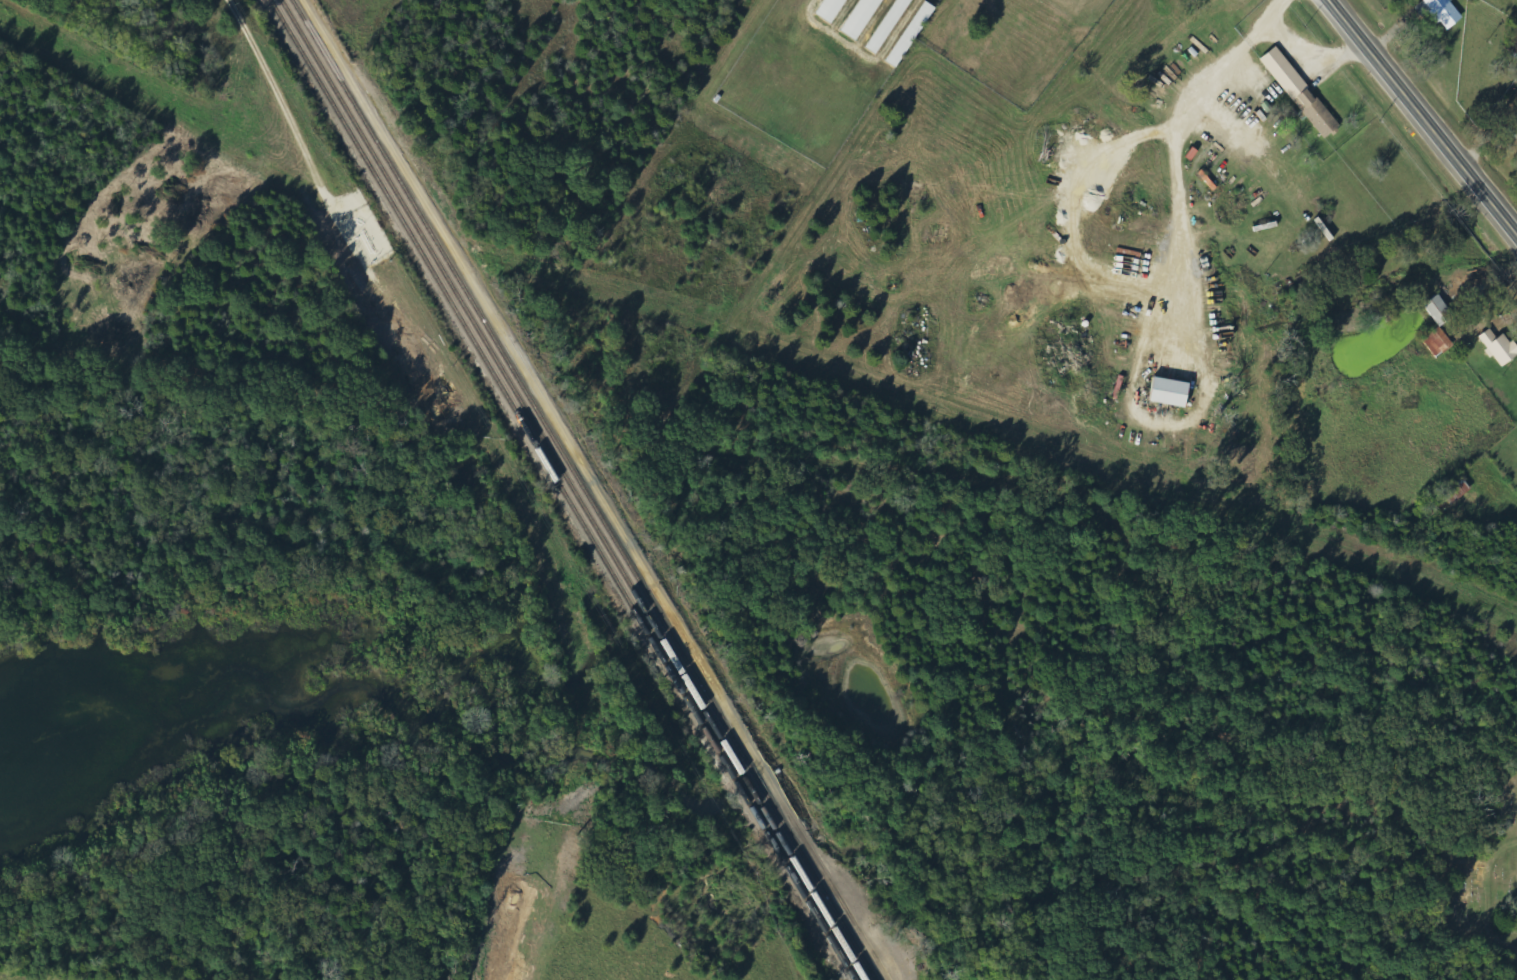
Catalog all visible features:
building: (832, 10)
building: (1443, 12)
building: (862, 18)
building: (889, 26)
building: (912, 35)
building: (1301, 93)
road: (1428, 110)
building: (1440, 311)
building: (1439, 342)
building: (1500, 348)
building: (1172, 392)
railway: (572, 489)
railway: (584, 489)
railway: (561, 490)
building: (1457, 491)

